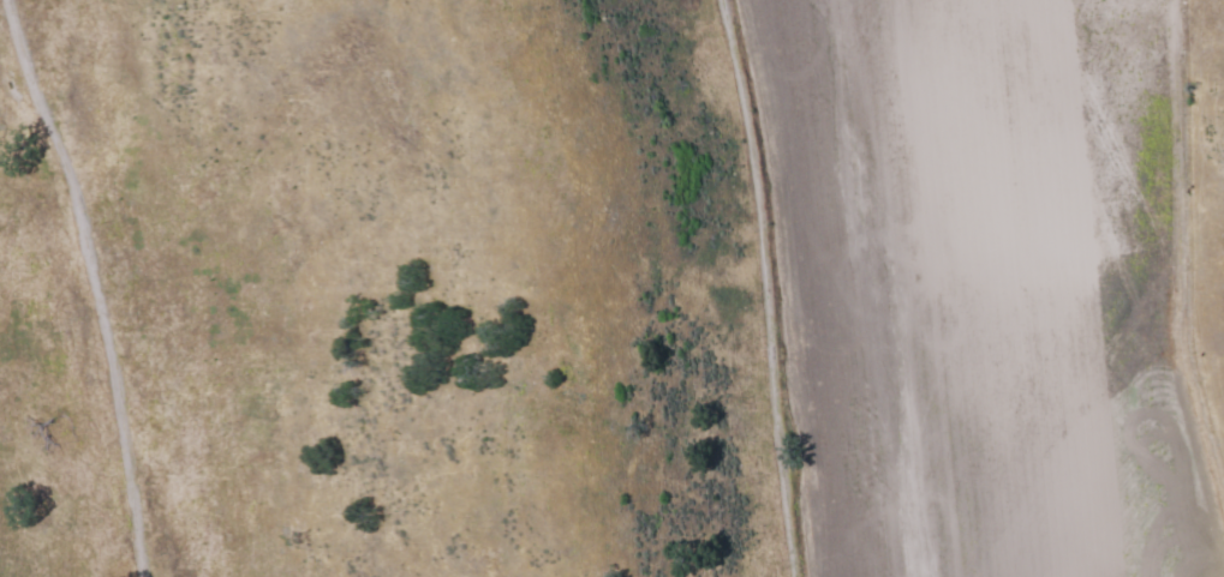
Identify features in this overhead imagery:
road: (5, 16)
crop: (995, 284)

